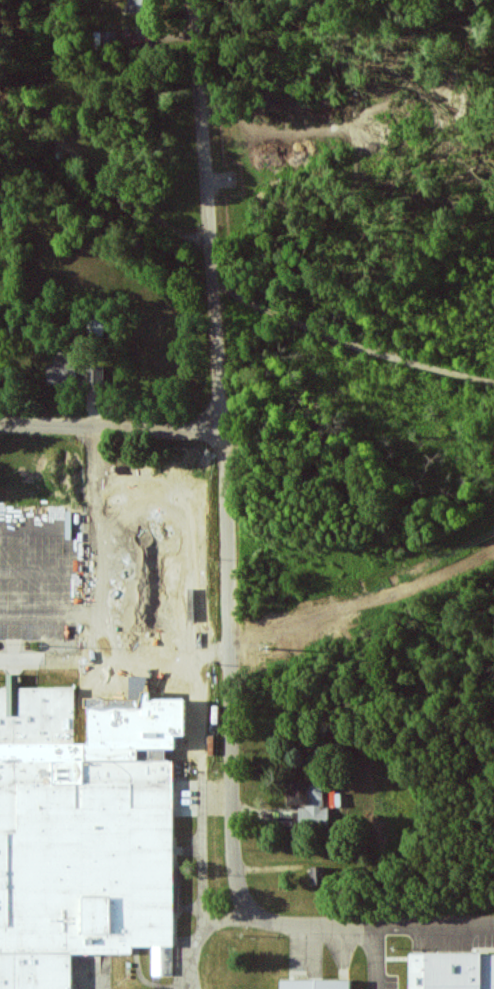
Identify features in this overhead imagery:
building: (140, 6)
building: (109, 36)
building: (97, 324)
building: (75, 372)
road: (112, 427)
road: (224, 458)
road: (101, 524)
road: (206, 571)
road: (103, 575)
road: (103, 620)
road: (208, 639)
road: (219, 658)
road: (137, 701)
building: (154, 755)
building: (311, 803)
road: (201, 817)
building: (85, 831)
building: (319, 876)
road: (313, 928)
road: (438, 929)
road: (200, 937)
road: (383, 958)
building: (453, 971)
building: (318, 985)

